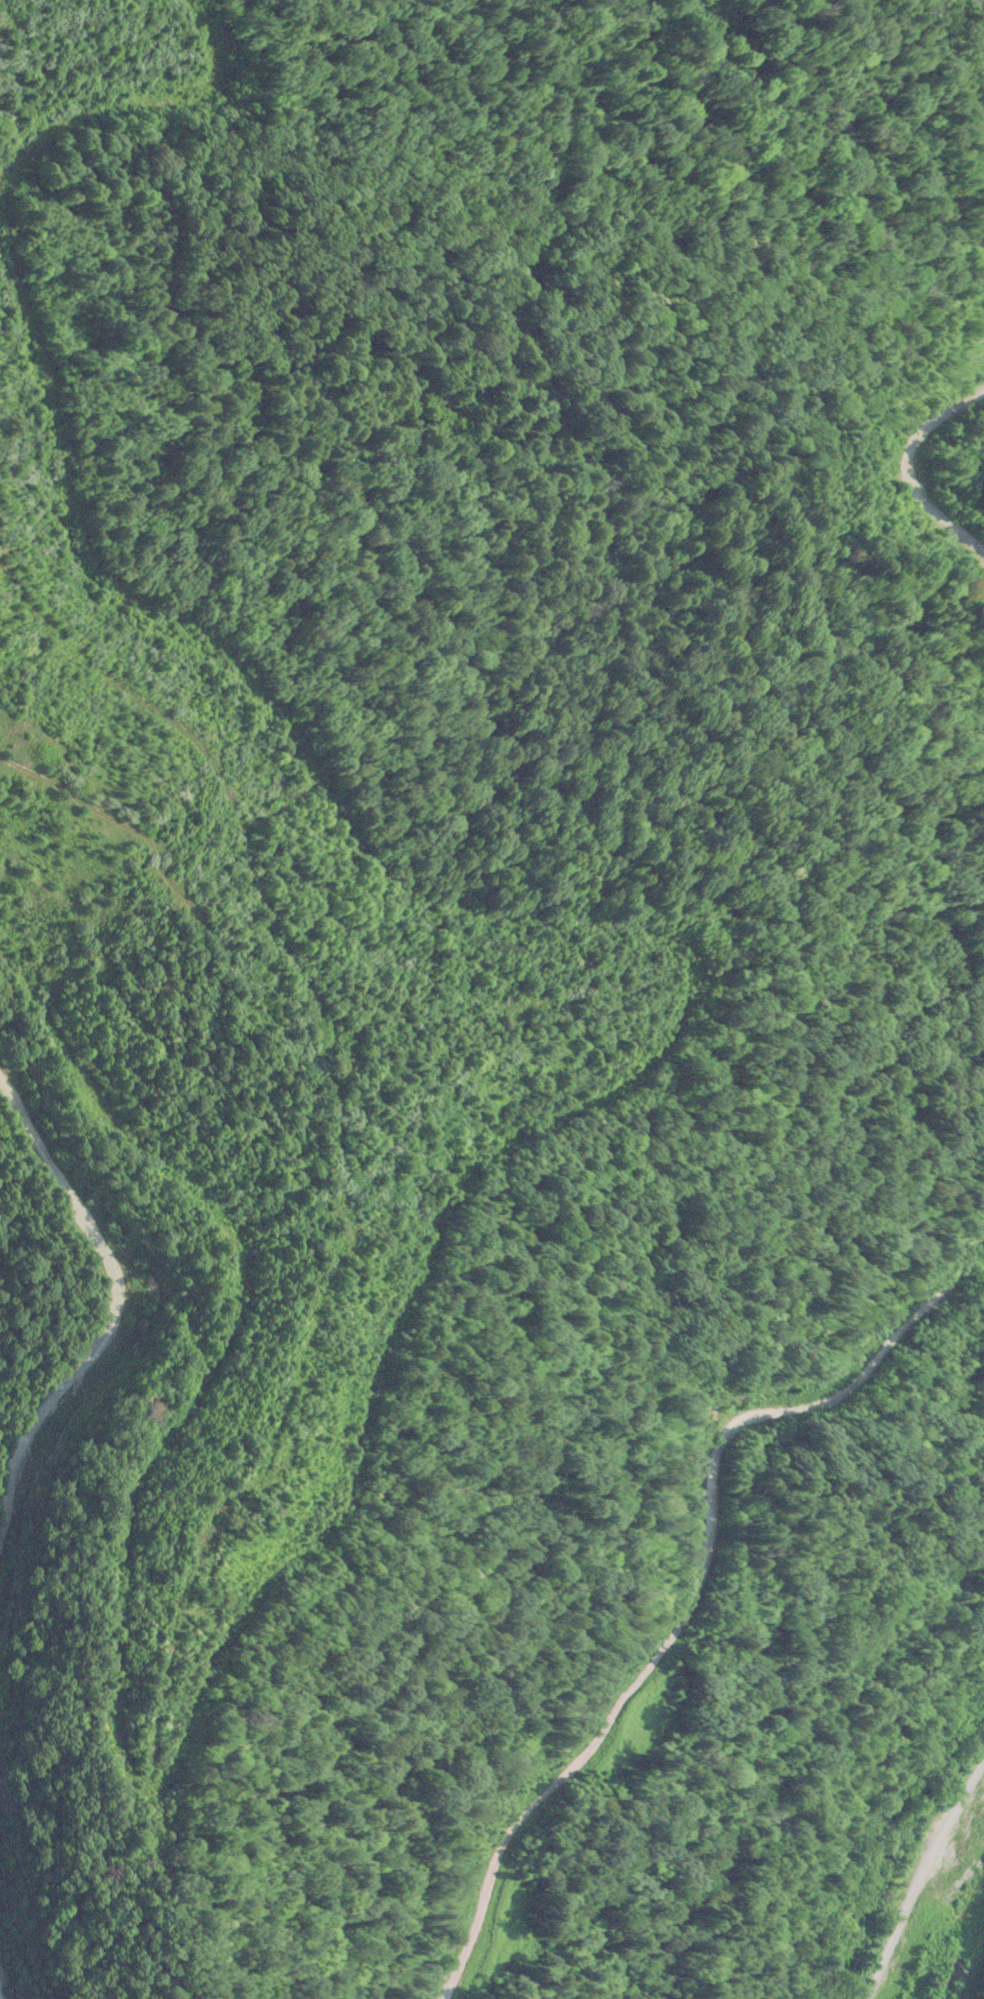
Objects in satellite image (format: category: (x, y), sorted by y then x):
road: (899, 106)
road: (918, 1878)

